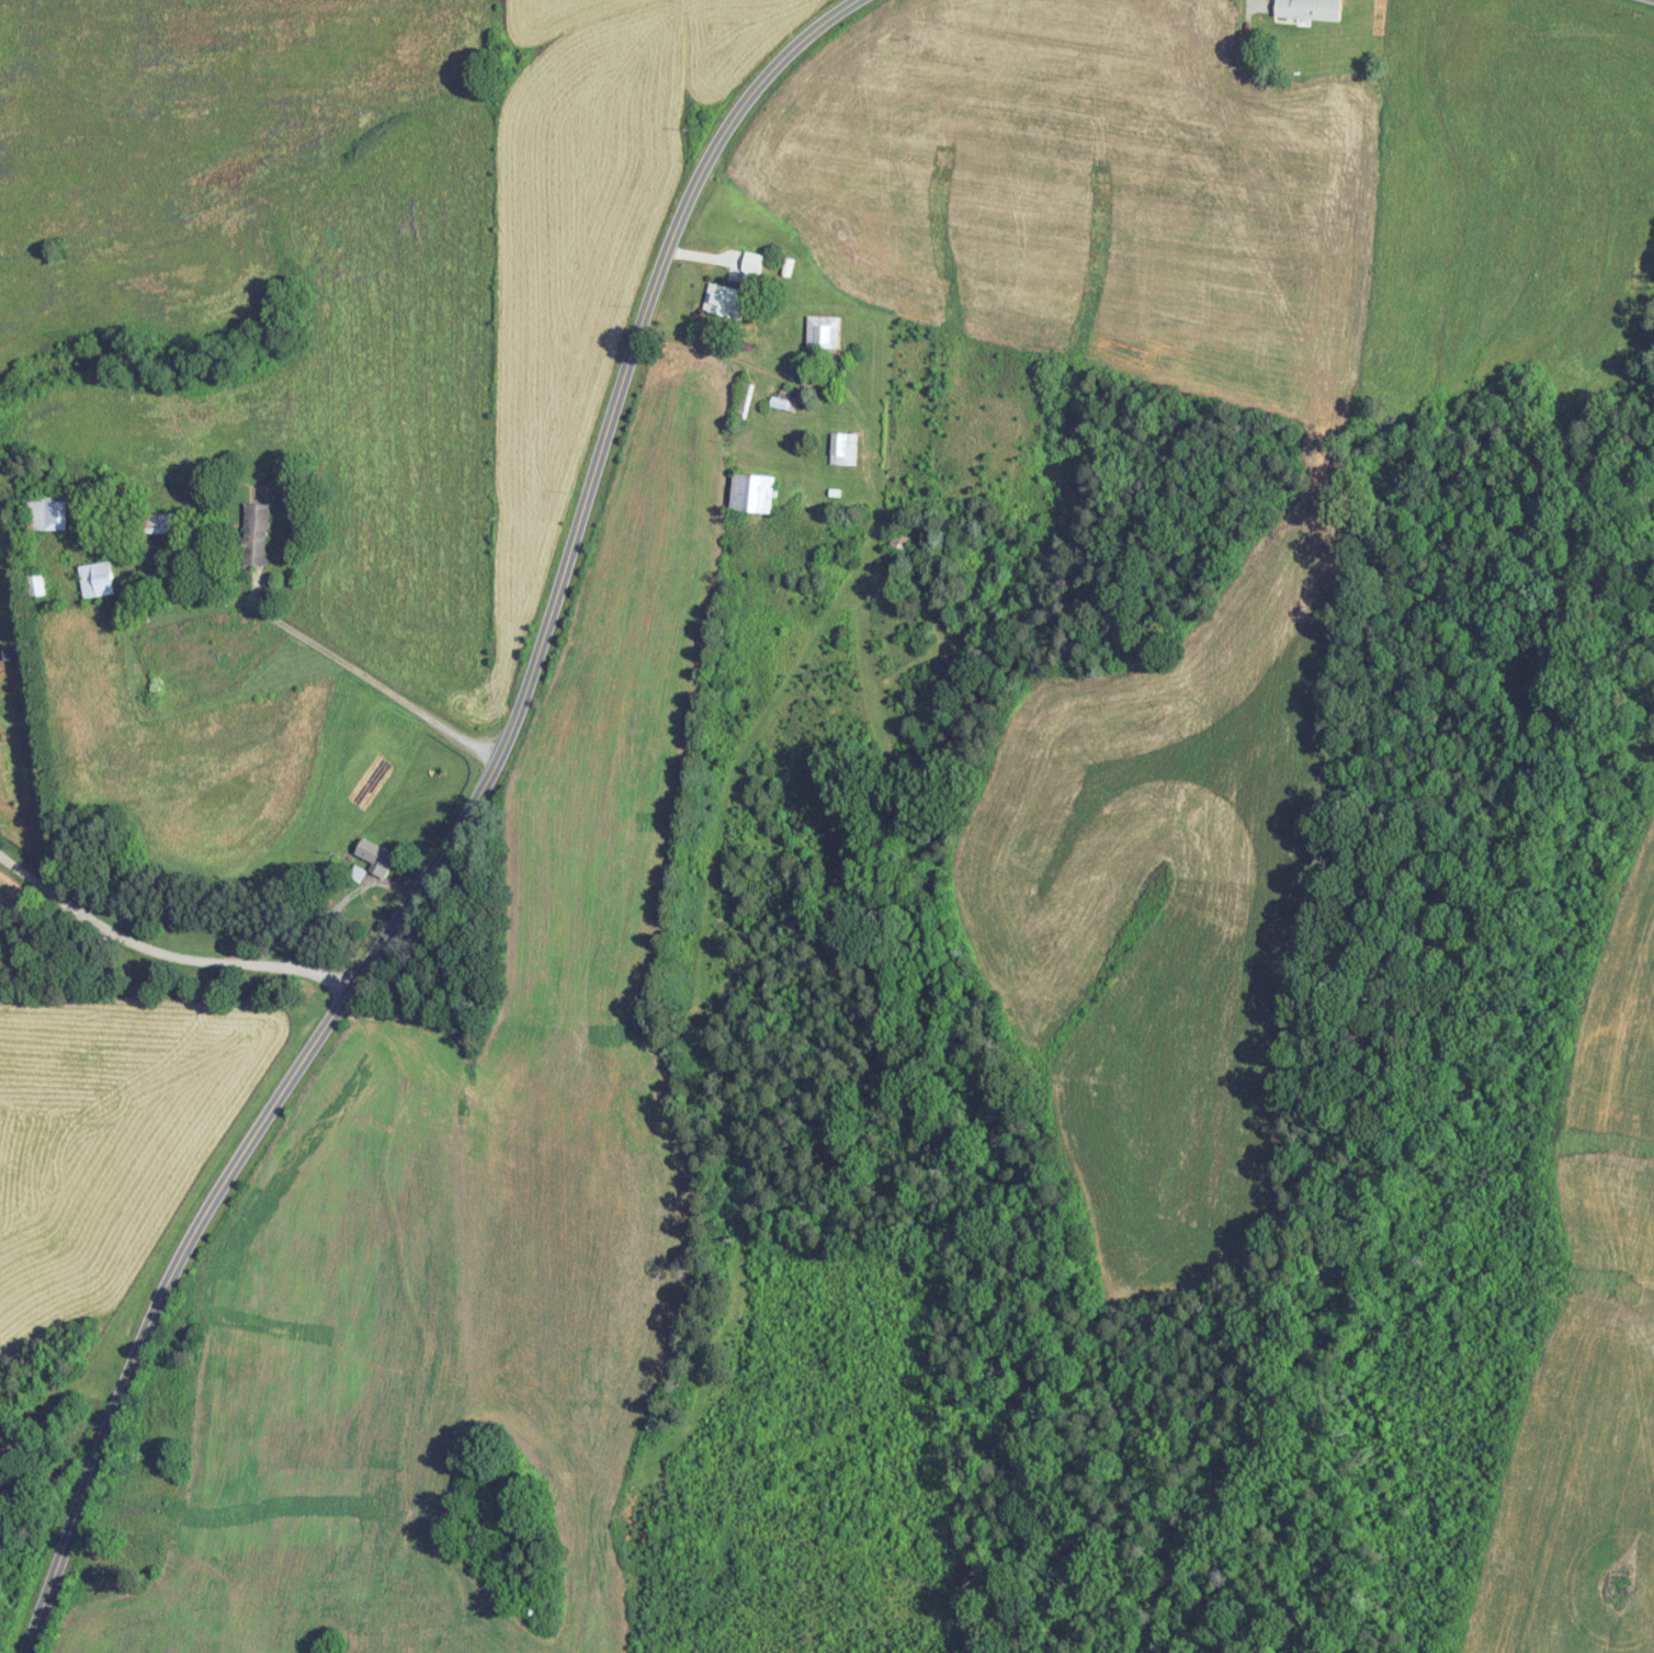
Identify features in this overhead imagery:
building: (1303, 9)
building: (738, 290)
building: (827, 331)
building: (788, 400)
building: (843, 448)
building: (759, 491)
building: (50, 511)
building: (261, 519)
building: (144, 522)
building: (100, 578)
road: (339, 658)
road: (463, 829)
building: (379, 857)
road: (163, 952)
road: (377, 1254)

